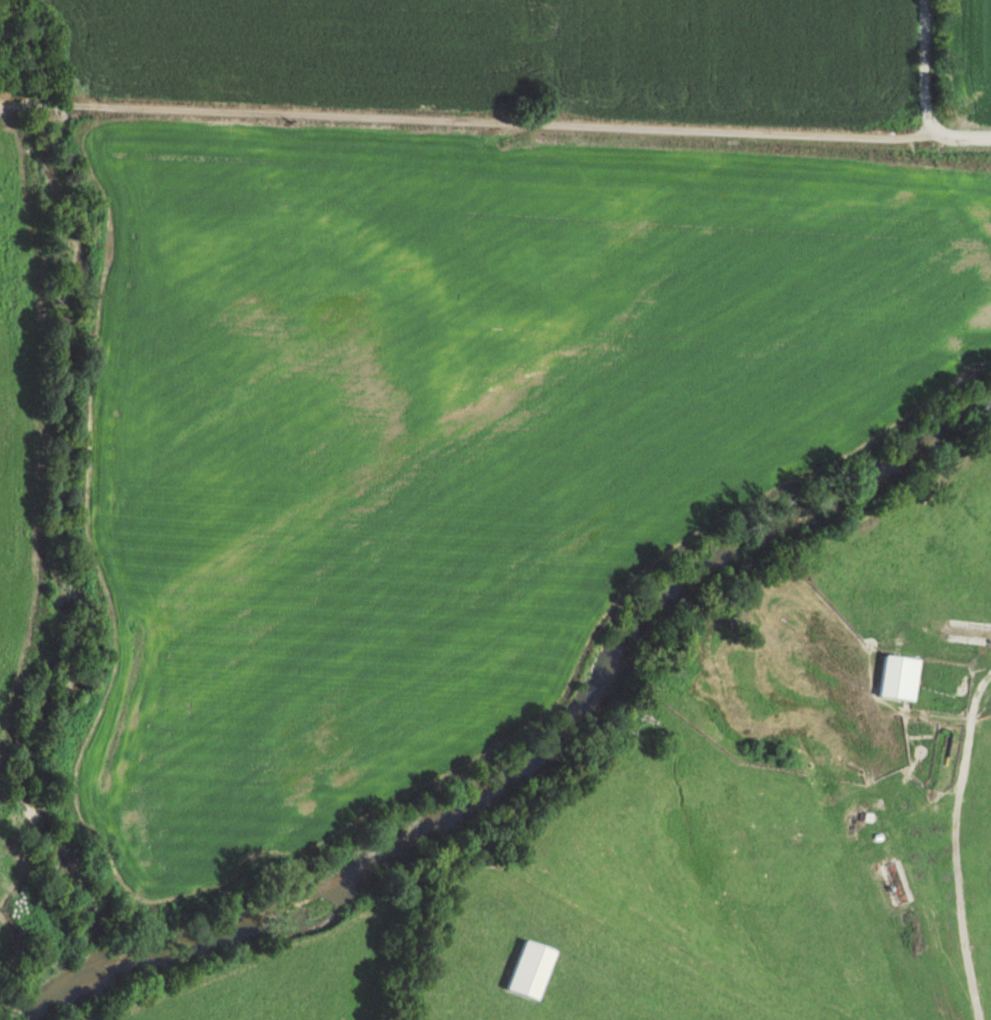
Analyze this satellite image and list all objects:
road: (925, 67)
road: (464, 117)
road: (959, 135)
building: (900, 676)
road: (938, 728)
building: (531, 968)

